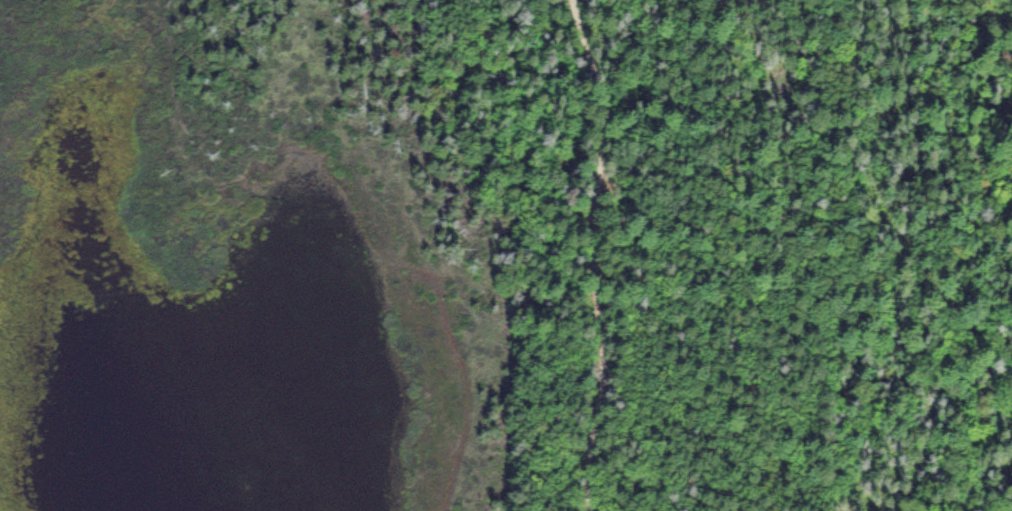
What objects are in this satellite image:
road: (600, 253)

